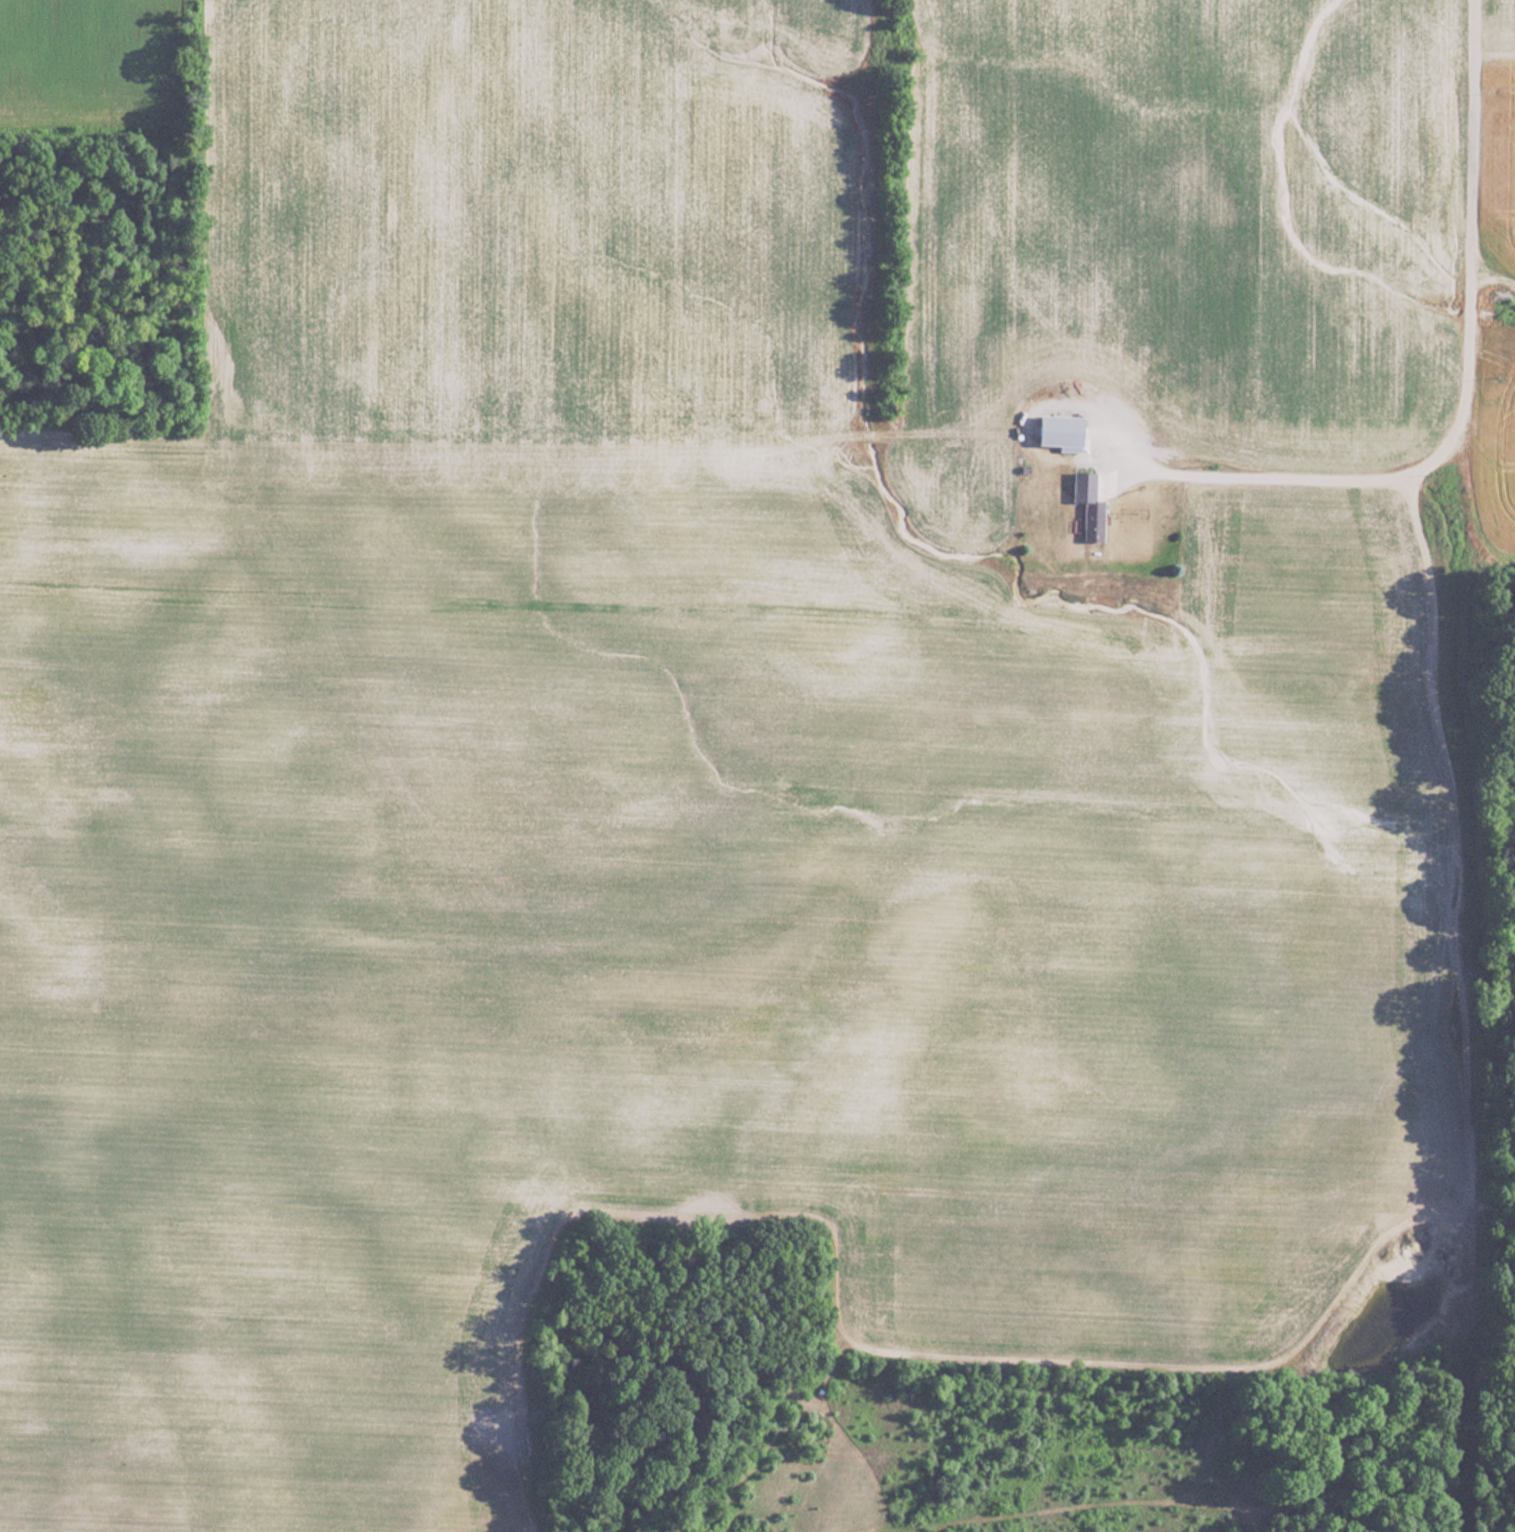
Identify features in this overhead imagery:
building: (1066, 432)
building: (1091, 505)

